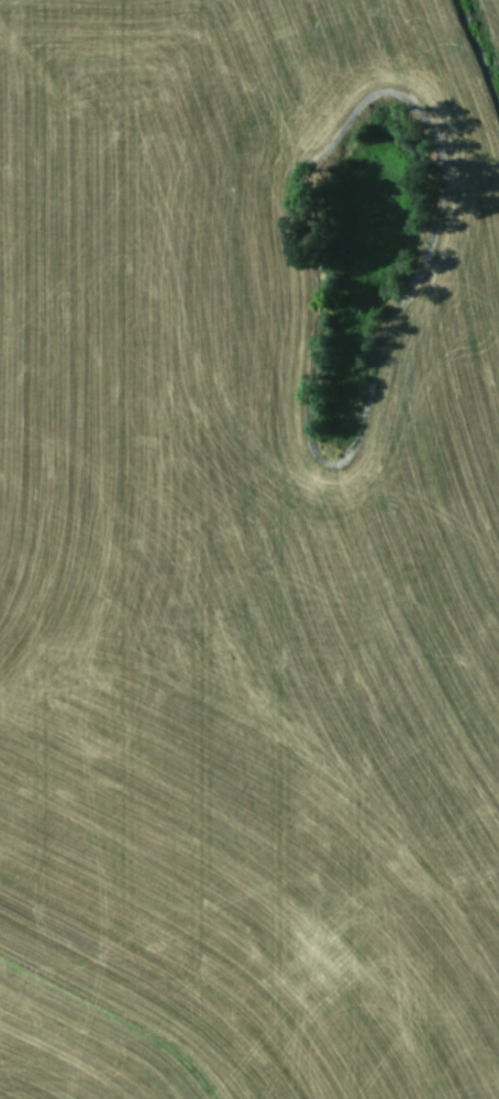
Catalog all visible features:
crop: (249, 549)

